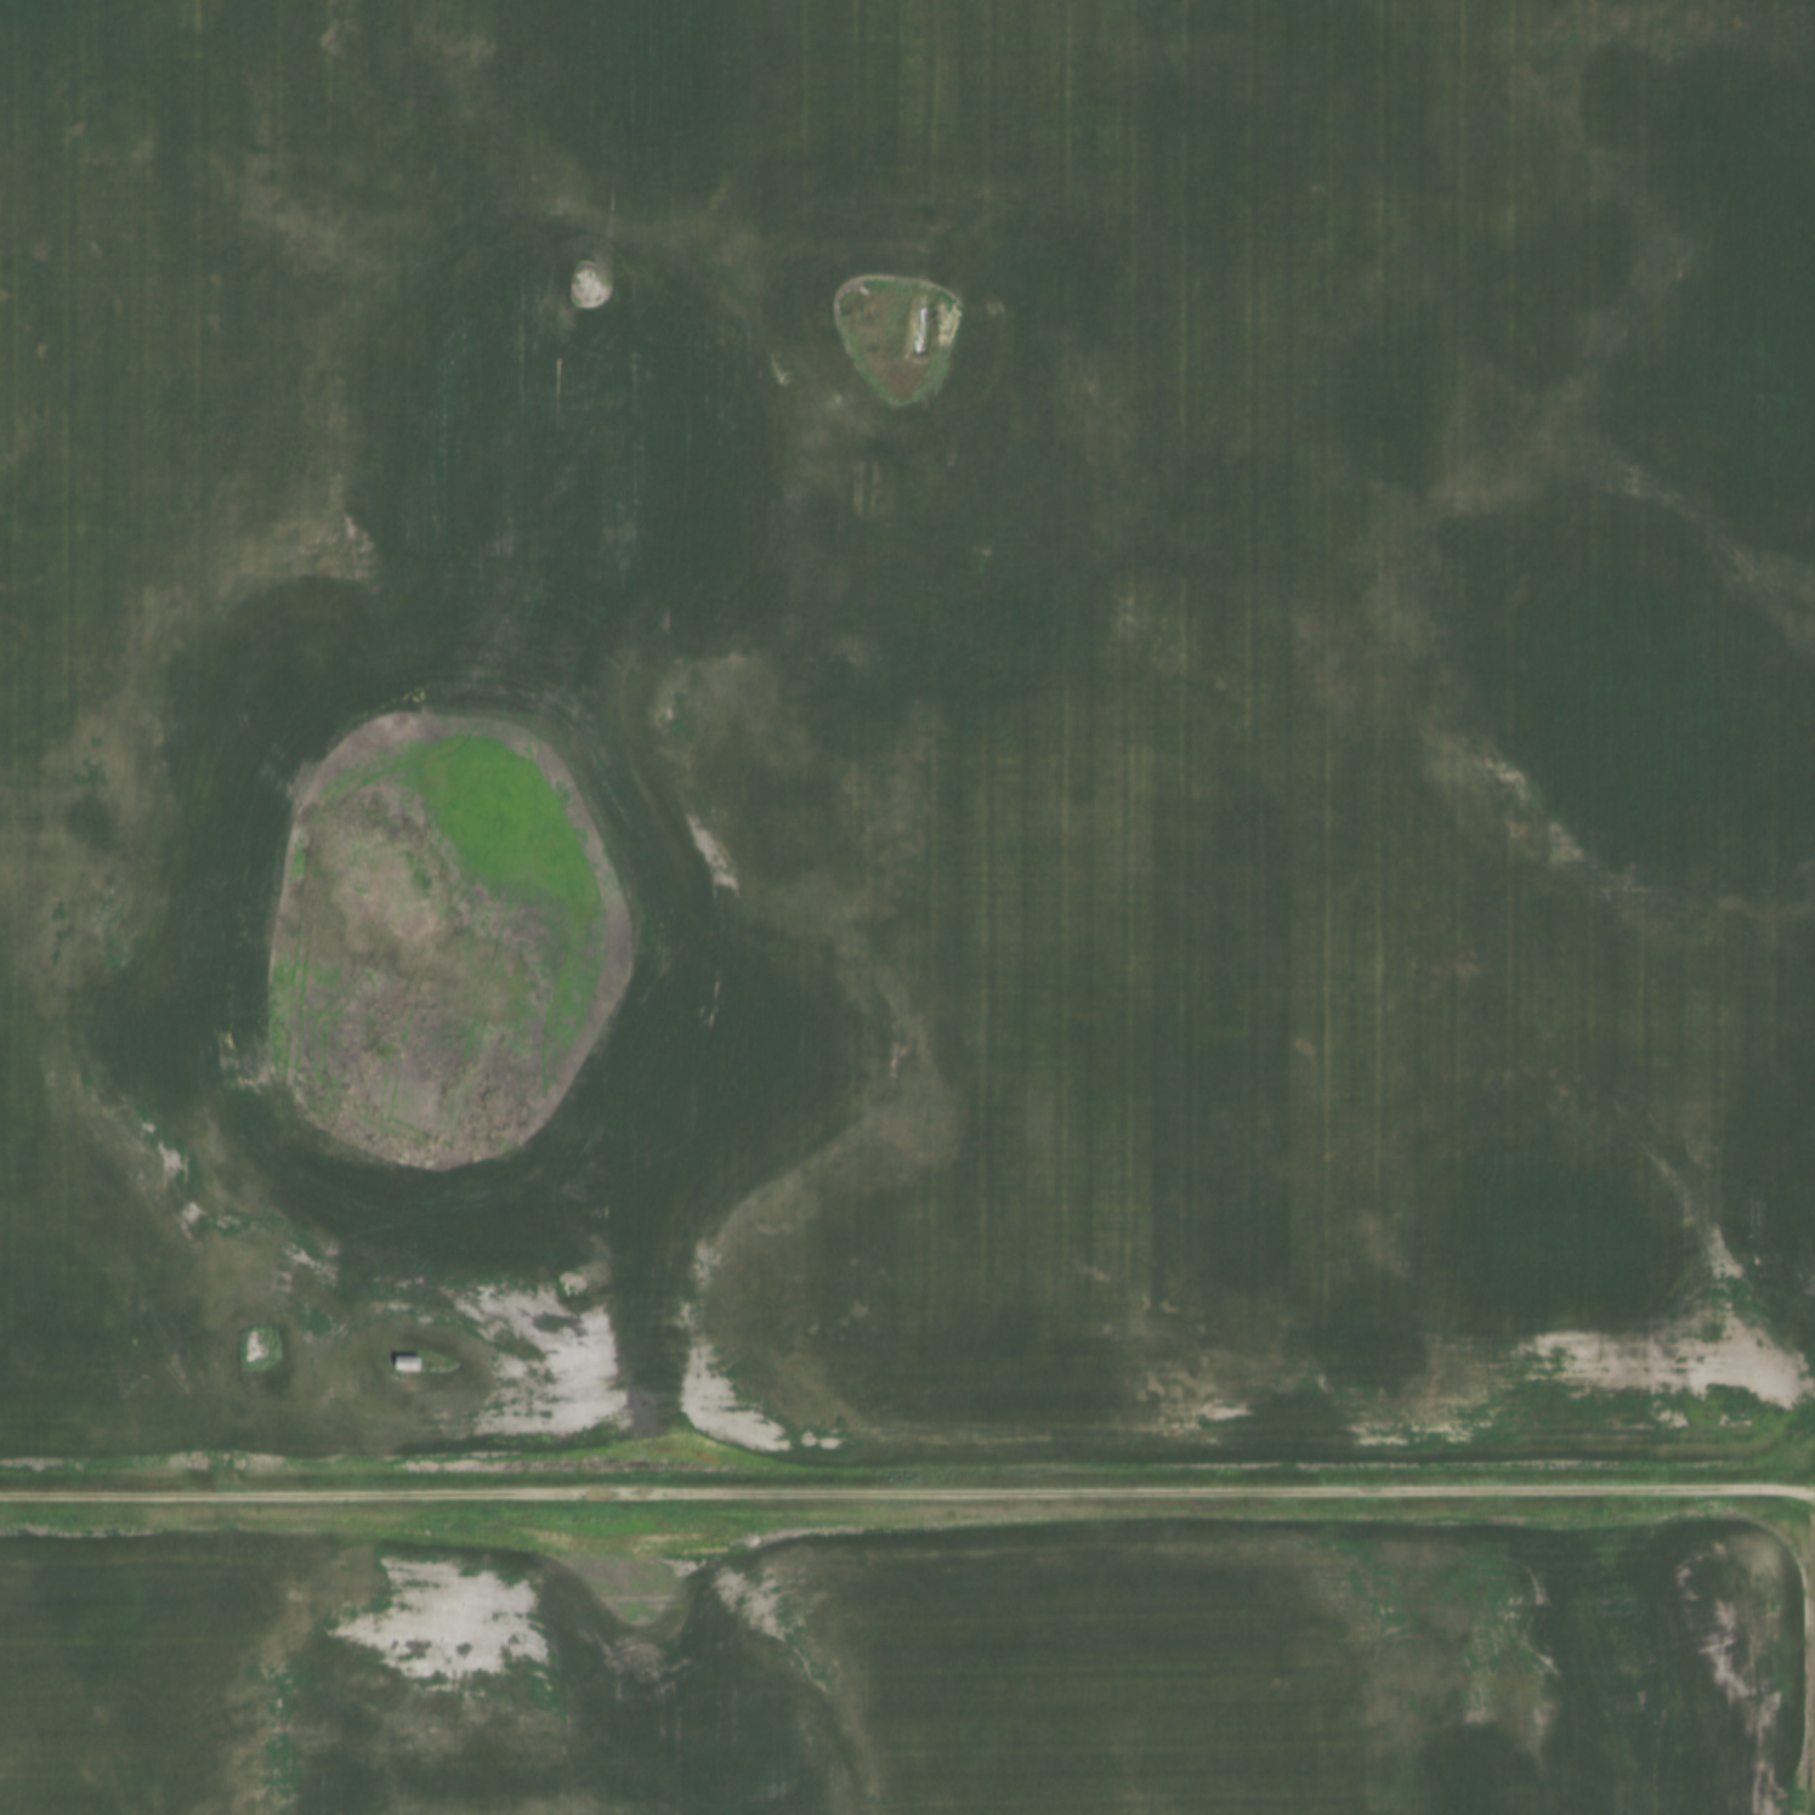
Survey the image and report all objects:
road: (907, 1498)

